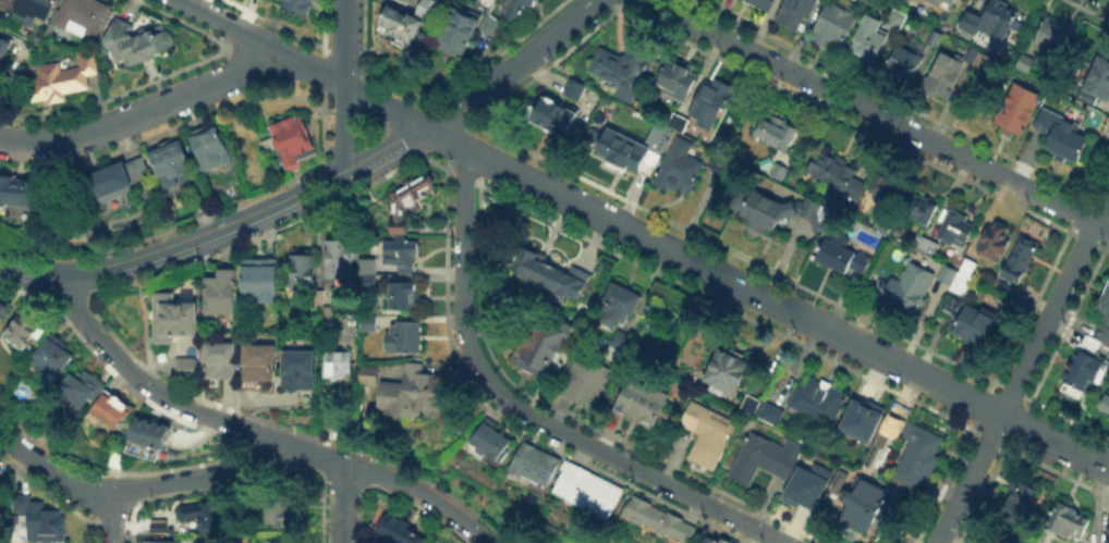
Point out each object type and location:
building: (9, 1)
building: (947, 2)
building: (765, 3)
building: (296, 7)
building: (519, 8)
building: (428, 9)
building: (796, 12)
building: (34, 16)
building: (989, 18)
building: (84, 20)
building: (898, 20)
building: (3, 21)
building: (834, 25)
building: (400, 26)
building: (467, 29)
building: (1052, 37)
building: (935, 39)
road: (263, 40)
building: (869, 40)
road: (343, 41)
building: (142, 42)
building: (3, 49)
building: (978, 59)
building: (1022, 61)
building: (903, 63)
road: (513, 67)
building: (621, 70)
building: (945, 76)
building: (674, 78)
building: (63, 79)
building: (1098, 83)
building: (575, 91)
building: (710, 103)
building: (1013, 107)
building: (1078, 109)
road: (142, 112)
road: (878, 114)
building: (551, 118)
building: (680, 125)
road: (343, 129)
building: (1058, 132)
building: (777, 133)
building: (658, 137)
building: (291, 145)
road: (383, 151)
building: (212, 152)
building: (629, 155)
building: (767, 162)
building: (717, 168)
building: (173, 170)
building: (679, 172)
building: (776, 174)
building: (836, 178)
building: (121, 181)
building: (16, 188)
building: (411, 201)
building: (903, 202)
building: (777, 211)
building: (881, 229)
building: (955, 230)
road: (207, 236)
building: (996, 240)
building: (926, 249)
building: (403, 256)
building: (840, 257)
building: (341, 259)
building: (368, 264)
building: (1016, 268)
building: (967, 270)
road: (31, 271)
building: (304, 273)
building: (550, 275)
road: (726, 275)
building: (947, 277)
building: (368, 282)
building: (264, 284)
building: (961, 286)
building: (909, 288)
building: (220, 294)
building: (403, 296)
road: (1055, 305)
building: (3, 312)
building: (175, 320)
building: (1104, 320)
building: (618, 321)
building: (369, 322)
building: (978, 325)
building: (23, 329)
building: (537, 337)
building: (404, 338)
building: (1090, 347)
building: (58, 356)
building: (258, 362)
building: (340, 366)
building: (220, 367)
building: (188, 369)
building: (729, 369)
building: (301, 370)
building: (371, 375)
building: (1080, 375)
building: (585, 382)
building: (80, 391)
building: (418, 393)
building: (816, 399)
building: (751, 400)
road: (173, 403)
building: (1106, 404)
building: (641, 405)
building: (768, 410)
building: (112, 411)
road: (525, 414)
building: (861, 415)
building: (888, 427)
building: (708, 433)
building: (153, 437)
building: (491, 443)
building: (918, 457)
building: (761, 458)
building: (118, 459)
building: (536, 467)
road: (968, 478)
building: (836, 480)
building: (806, 482)
road: (139, 486)
building: (589, 491)
road: (419, 493)
building: (1023, 496)
road: (341, 502)
building: (279, 504)
building: (865, 504)
building: (203, 510)
road: (112, 518)
building: (659, 521)
building: (1069, 521)
building: (44, 522)
building: (164, 526)
building: (400, 532)
building: (1107, 533)
building: (288, 540)
building: (714, 540)
building: (728, 541)
building: (163, 542)

